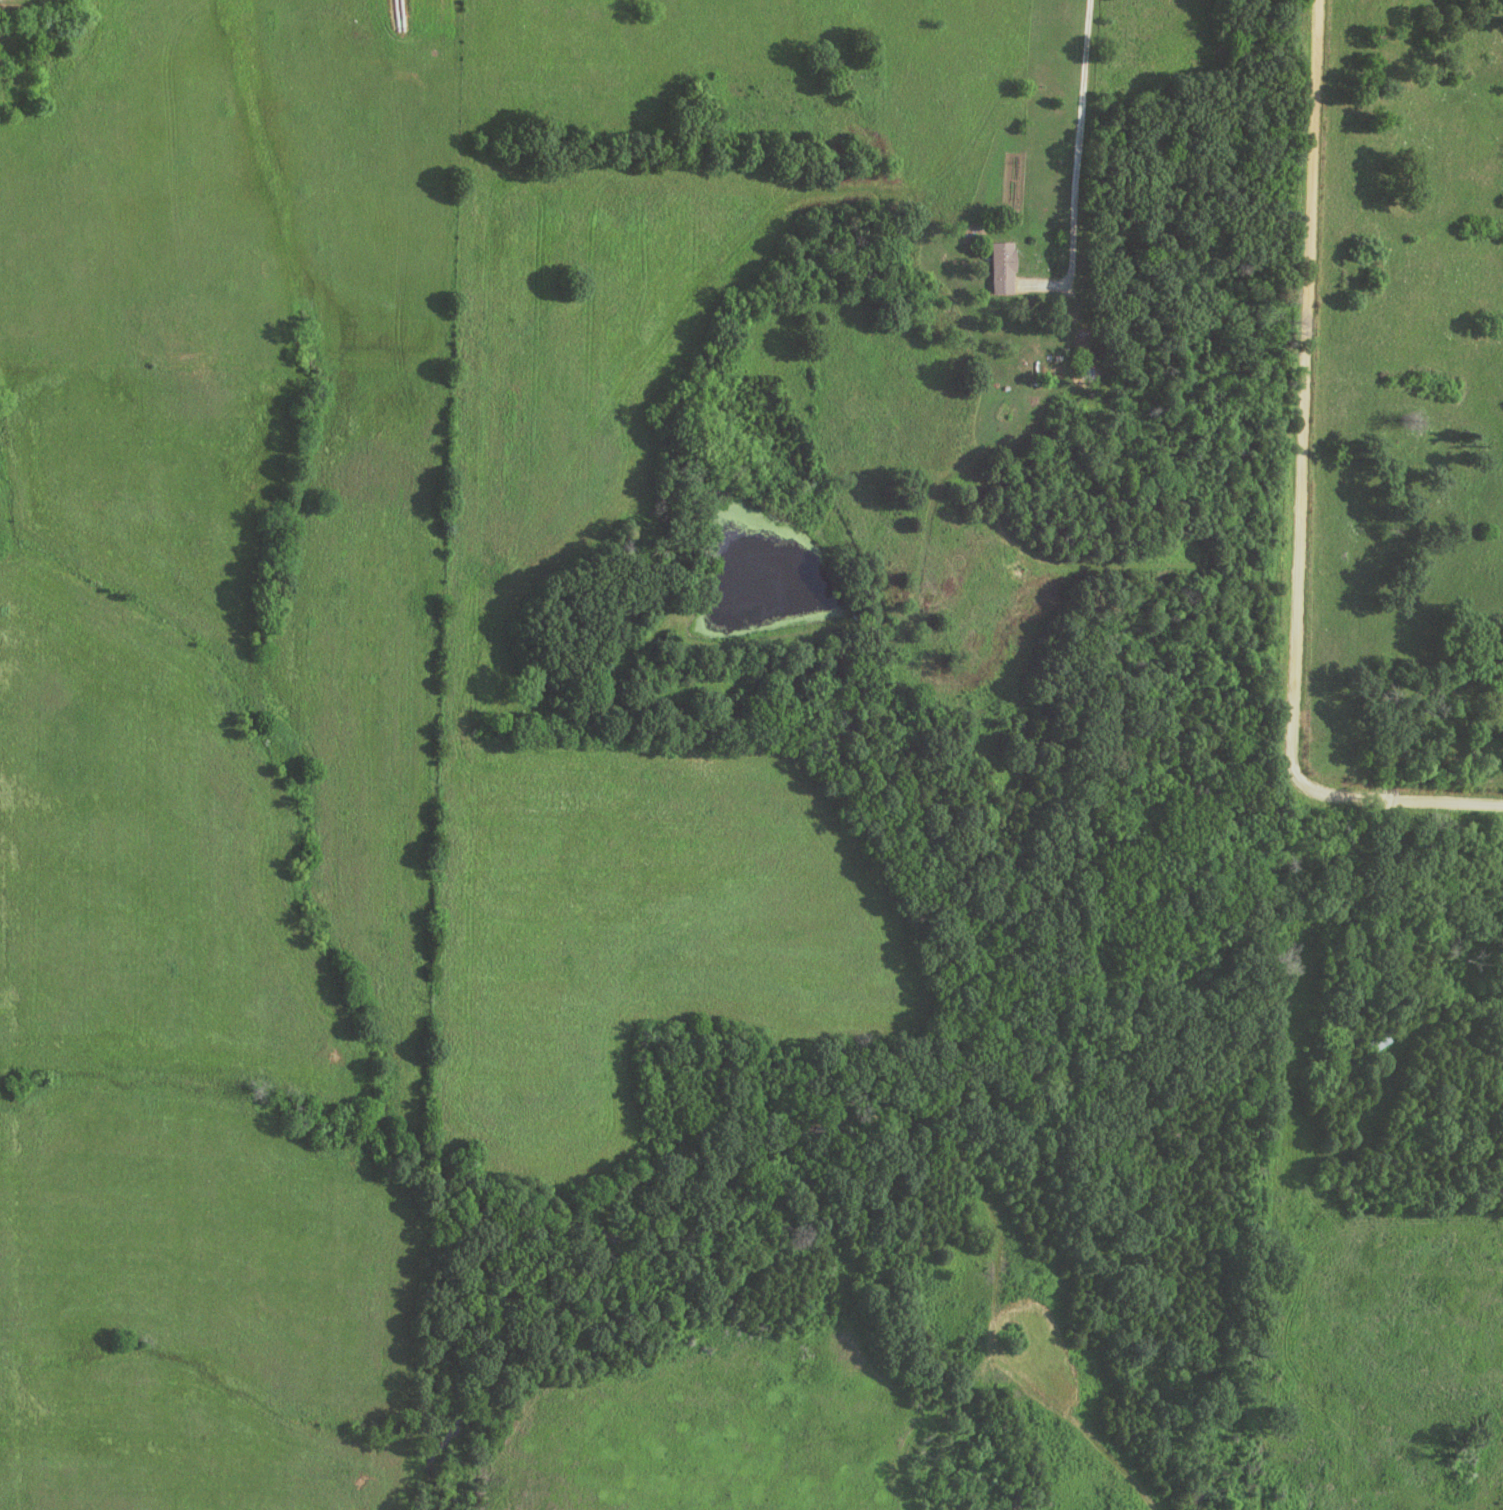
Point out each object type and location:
road: (20, 3)
road: (1086, 161)
building: (1003, 268)
road: (1310, 493)
building: (1380, 1042)

